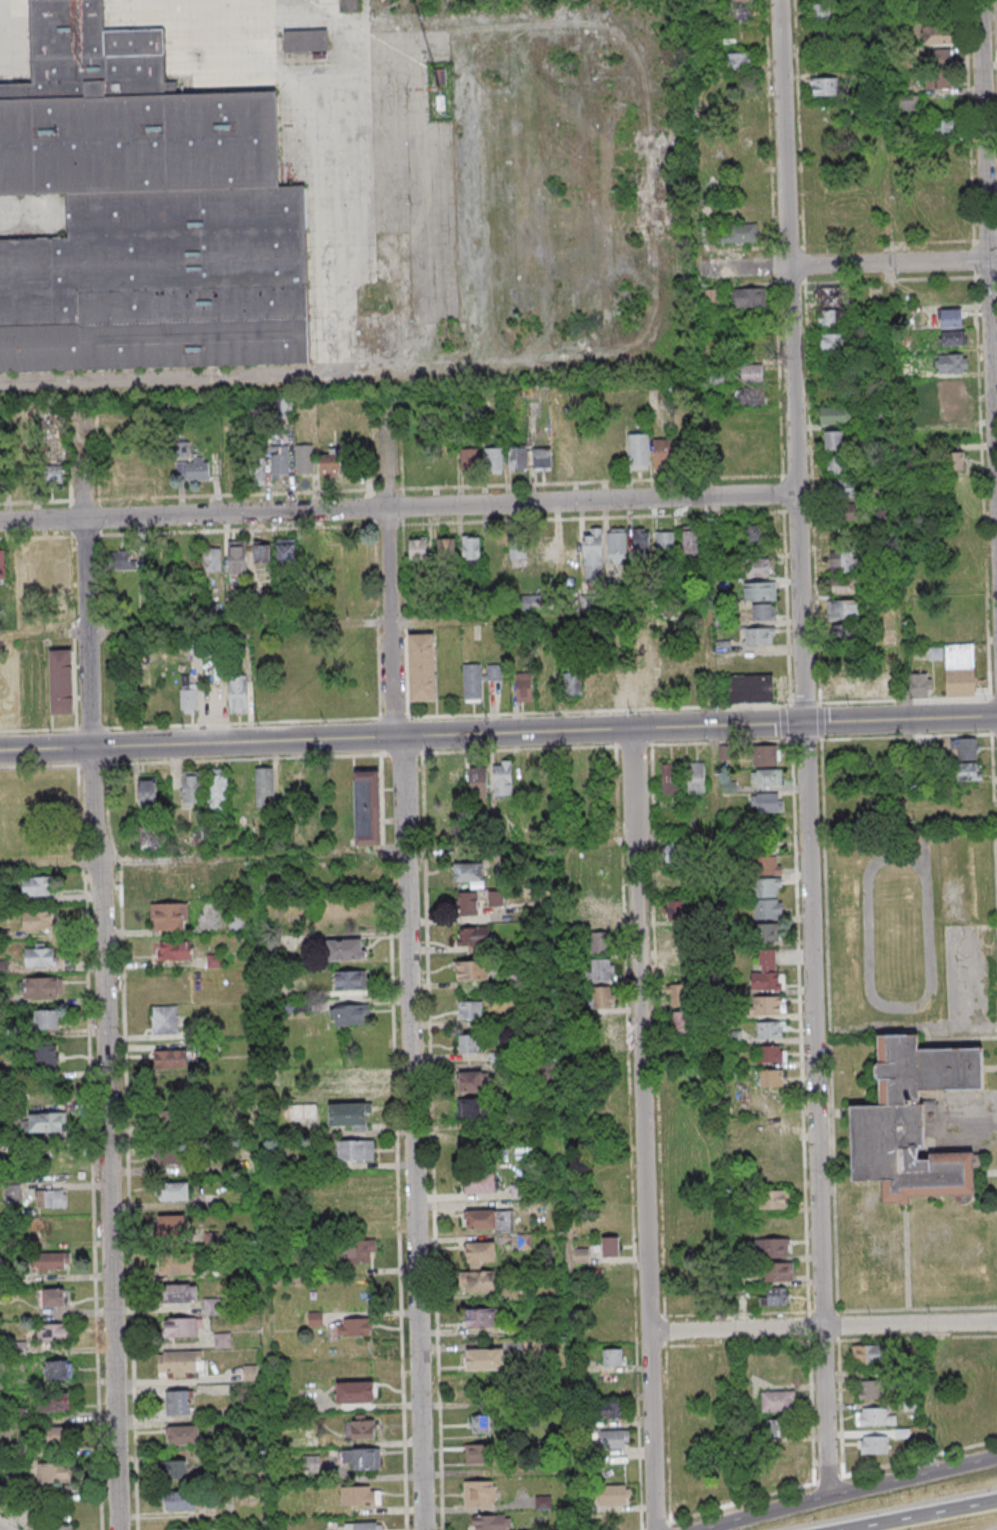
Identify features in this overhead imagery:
building: (937, 3)
building: (349, 5)
building: (820, 12)
building: (735, 14)
building: (936, 35)
building: (308, 45)
building: (739, 62)
building: (938, 70)
building: (824, 88)
road: (349, 89)
building: (909, 103)
building: (125, 121)
building: (943, 129)
building: (737, 233)
road: (988, 261)
road: (855, 264)
building: (160, 286)
road: (893, 291)
building: (828, 294)
building: (748, 297)
building: (832, 317)
building: (950, 320)
building: (950, 338)
building: (832, 343)
road: (791, 361)
building: (951, 364)
building: (952, 386)
building: (749, 398)
building: (834, 414)
building: (835, 439)
building: (639, 452)
building: (664, 454)
building: (517, 458)
building: (468, 459)
building: (280, 460)
building: (305, 460)
building: (494, 460)
building: (542, 461)
building: (953, 461)
building: (330, 463)
building: (837, 464)
building: (198, 469)
building: (256, 470)
building: (3, 476)
building: (52, 476)
building: (840, 487)
road: (591, 502)
building: (845, 513)
road: (193, 515)
building: (757, 534)
building: (665, 542)
building: (642, 543)
building: (518, 544)
building: (691, 544)
building: (617, 545)
building: (447, 547)
building: (418, 548)
building: (471, 550)
building: (286, 551)
building: (261, 553)
building: (594, 555)
building: (238, 557)
building: (122, 559)
building: (212, 559)
building: (837, 562)
building: (2, 564)
road: (389, 567)
building: (757, 567)
building: (844, 587)
building: (759, 591)
building: (842, 610)
building: (763, 612)
road: (378, 623)
building: (844, 635)
building: (759, 636)
building: (422, 667)
building: (960, 669)
building: (63, 681)
building: (473, 682)
building: (572, 683)
building: (643, 683)
building: (921, 684)
building: (525, 688)
building: (751, 689)
building: (238, 695)
building: (188, 696)
road: (498, 714)
road: (900, 719)
traffic signals: (804, 723)
road: (599, 730)
road: (242, 742)
road: (45, 749)
building: (765, 755)
building: (967, 761)
building: (695, 777)
building: (765, 778)
building: (502, 779)
building: (669, 779)
building: (479, 782)
building: (263, 785)
building: (191, 788)
building: (217, 789)
building: (147, 791)
building: (766, 802)
building: (366, 807)
building: (767, 834)
road: (407, 853)
building: (678, 854)
building: (767, 865)
building: (468, 872)
building: (166, 881)
building: (38, 886)
building: (767, 888)
building: (495, 898)
building: (468, 903)
building: (675, 909)
building: (767, 909)
building: (600, 911)
building: (169, 916)
building: (37, 920)
building: (768, 932)
building: (472, 936)
building: (680, 940)
building: (600, 942)
building: (347, 949)
building: (173, 950)
building: (40, 955)
road: (102, 969)
building: (602, 969)
building: (471, 970)
building: (767, 973)
building: (349, 980)
building: (41, 987)
building: (678, 995)
building: (603, 997)
building: (768, 1006)
building: (470, 1010)
building: (349, 1013)
building: (47, 1019)
building: (165, 1019)
building: (679, 1022)
building: (769, 1030)
building: (467, 1043)
building: (45, 1054)
building: (771, 1054)
building: (170, 1059)
building: (771, 1077)
building: (470, 1081)
building: (354, 1083)
building: (477, 1109)
road: (815, 1109)
building: (349, 1116)
building: (169, 1120)
building: (911, 1120)
building: (46, 1123)
road: (643, 1130)
road: (416, 1133)
building: (356, 1150)
building: (169, 1155)
building: (480, 1183)
road: (570, 1188)
building: (174, 1191)
road: (264, 1194)
building: (773, 1199)
building: (51, 1200)
building: (489, 1219)
building: (170, 1225)
building: (610, 1246)
building: (772, 1247)
building: (360, 1250)
building: (480, 1254)
building: (581, 1254)
building: (52, 1261)
building: (177, 1265)
building: (779, 1271)
building: (479, 1281)
building: (179, 1293)
building: (51, 1297)
building: (774, 1298)
building: (212, 1306)
building: (480, 1318)
building: (353, 1326)
road: (822, 1326)
building: (182, 1327)
building: (54, 1333)
building: (222, 1340)
building: (978, 1351)
building: (867, 1353)
building: (612, 1356)
building: (485, 1358)
building: (180, 1362)
building: (56, 1369)
building: (871, 1389)
building: (355, 1391)
building: (54, 1401)
building: (178, 1403)
building: (777, 1403)
building: (609, 1409)
building: (874, 1416)
building: (479, 1424)
building: (364, 1426)
building: (773, 1430)
building: (183, 1436)
building: (55, 1438)
building: (614, 1439)
building: (874, 1444)
building: (478, 1453)
building: (361, 1459)
building: (177, 1469)
building: (54, 1473)
road: (912, 1477)
building: (479, 1493)
building: (613, 1494)
building: (360, 1495)
building: (180, 1500)
road: (770, 1513)
road: (914, 1514)
building: (58, 1521)
building: (491, 1522)
building: (363, 1526)
road: (0, 1529)
building: (181, 1529)

